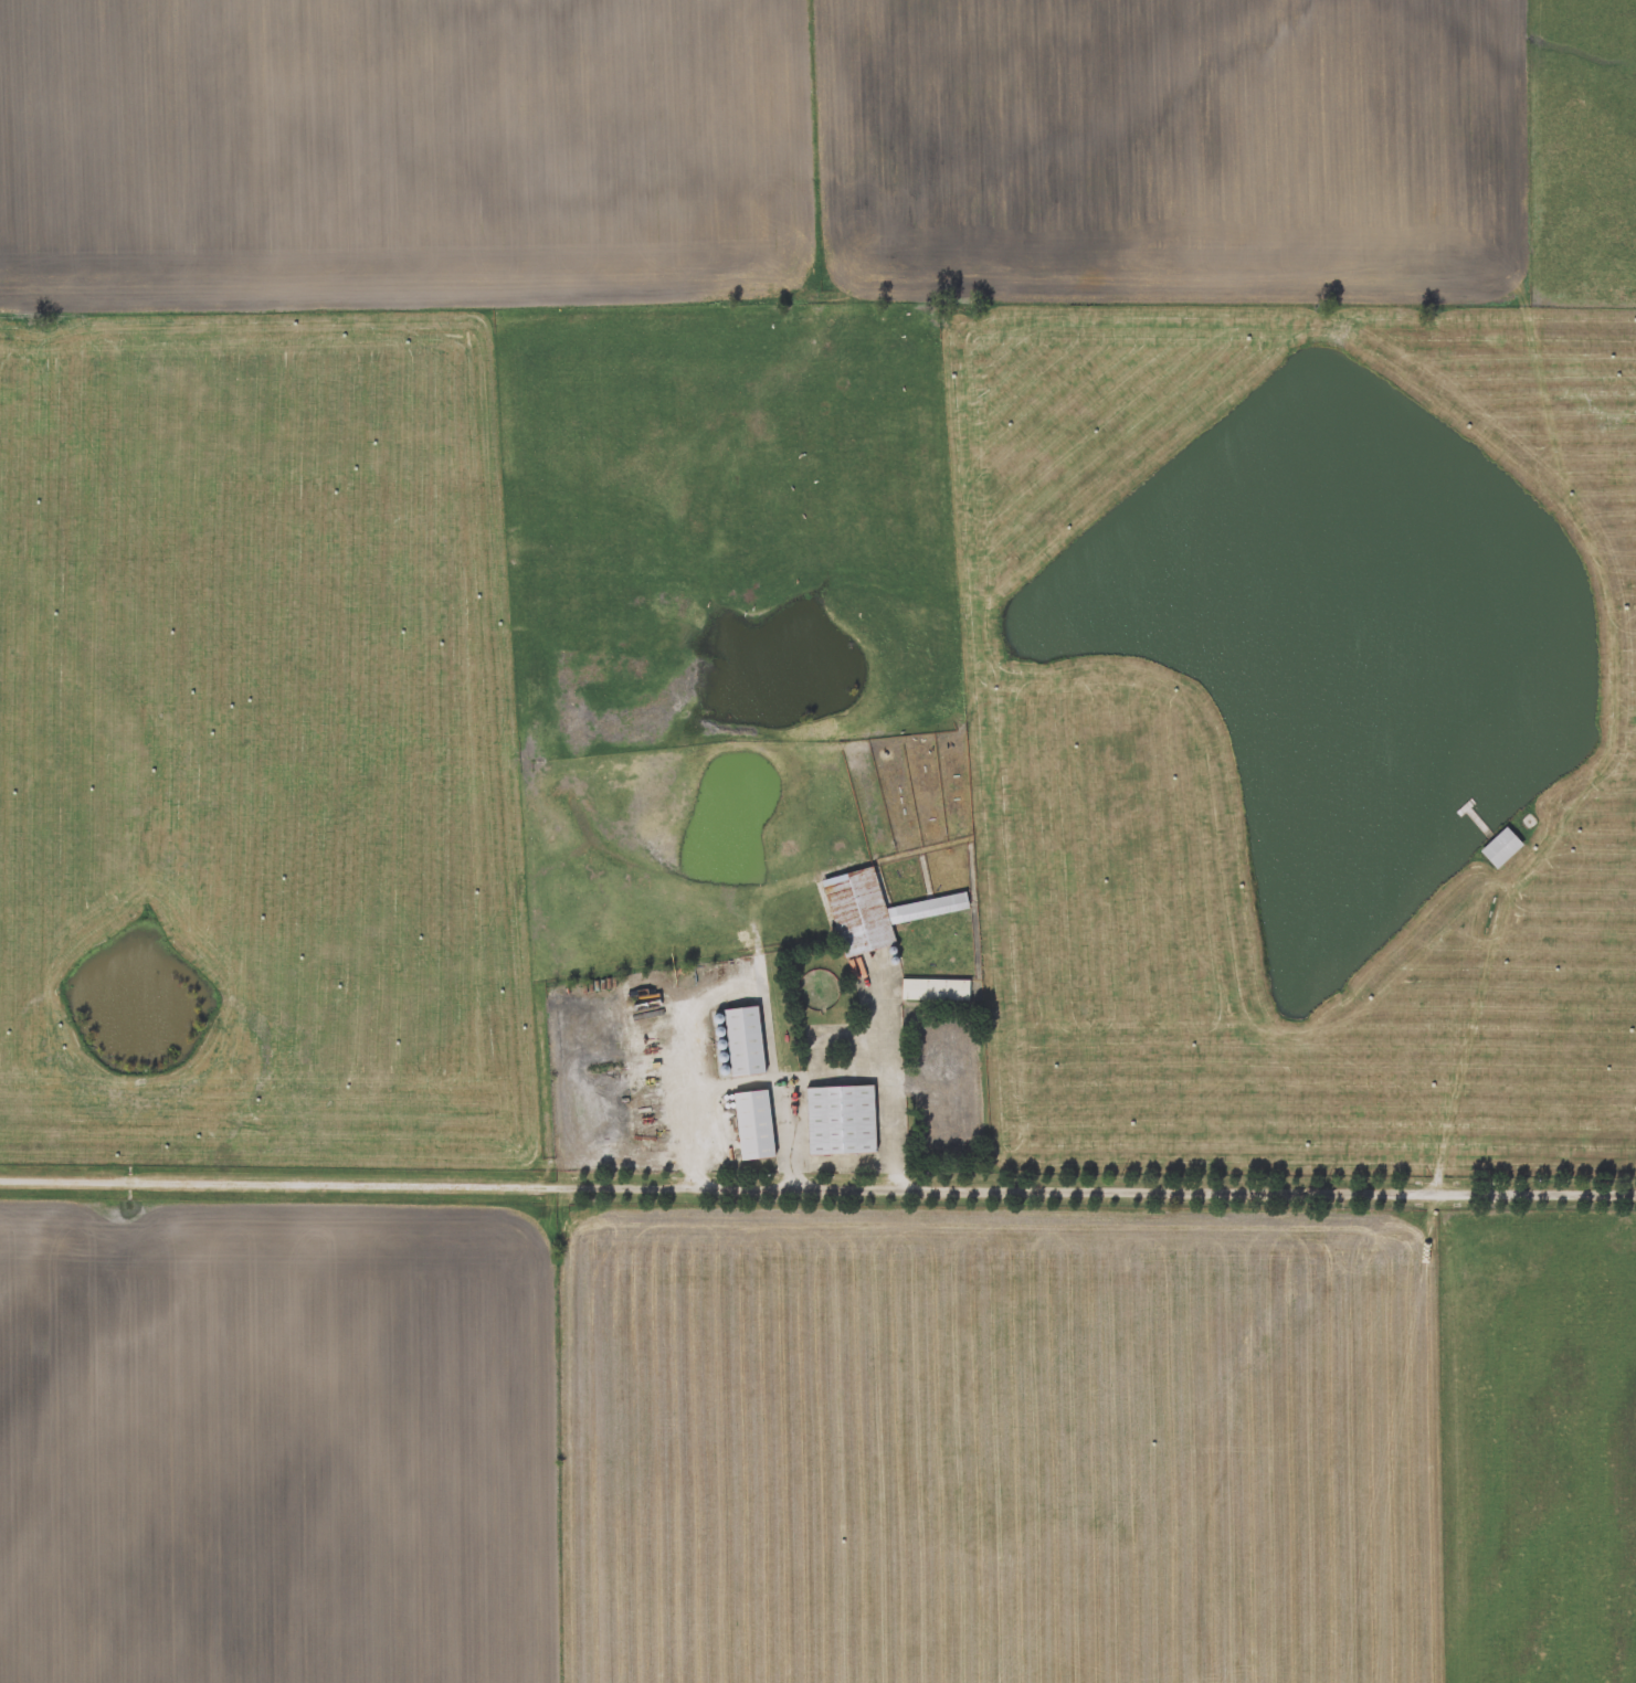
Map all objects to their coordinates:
building: (1500, 846)
building: (874, 911)
building: (933, 988)
road: (1469, 1034)
building: (742, 1040)
building: (942, 1072)
road: (775, 1073)
road: (887, 1079)
building: (840, 1119)
building: (752, 1123)
road: (817, 1187)

